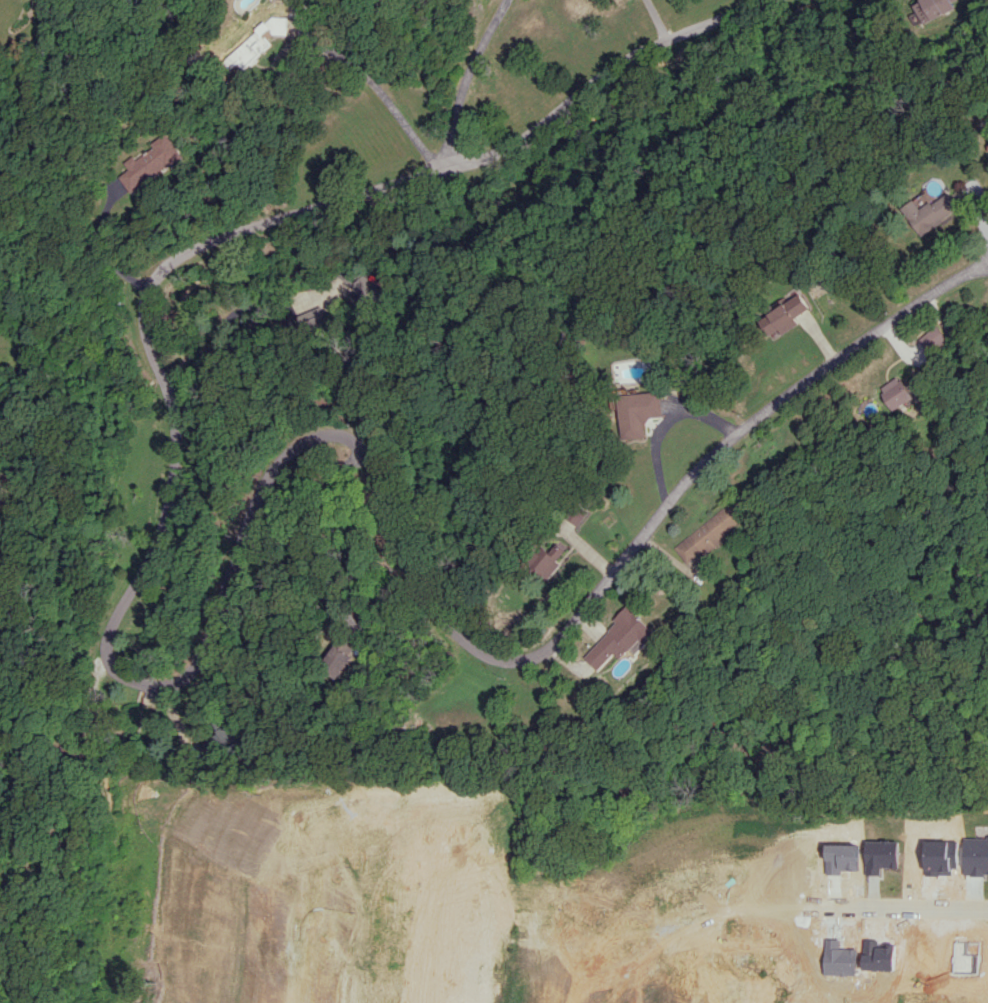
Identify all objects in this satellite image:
building: (931, 8)
road: (656, 19)
building: (256, 42)
road: (467, 81)
road: (381, 92)
building: (151, 162)
building: (929, 212)
road: (103, 250)
building: (365, 290)
building: (784, 315)
road: (224, 322)
building: (933, 339)
building: (896, 392)
building: (638, 412)
road: (663, 425)
building: (709, 533)
road: (327, 534)
building: (548, 558)
building: (621, 637)
road: (196, 650)
building: (335, 662)
building: (224, 734)
road: (785, 908)

